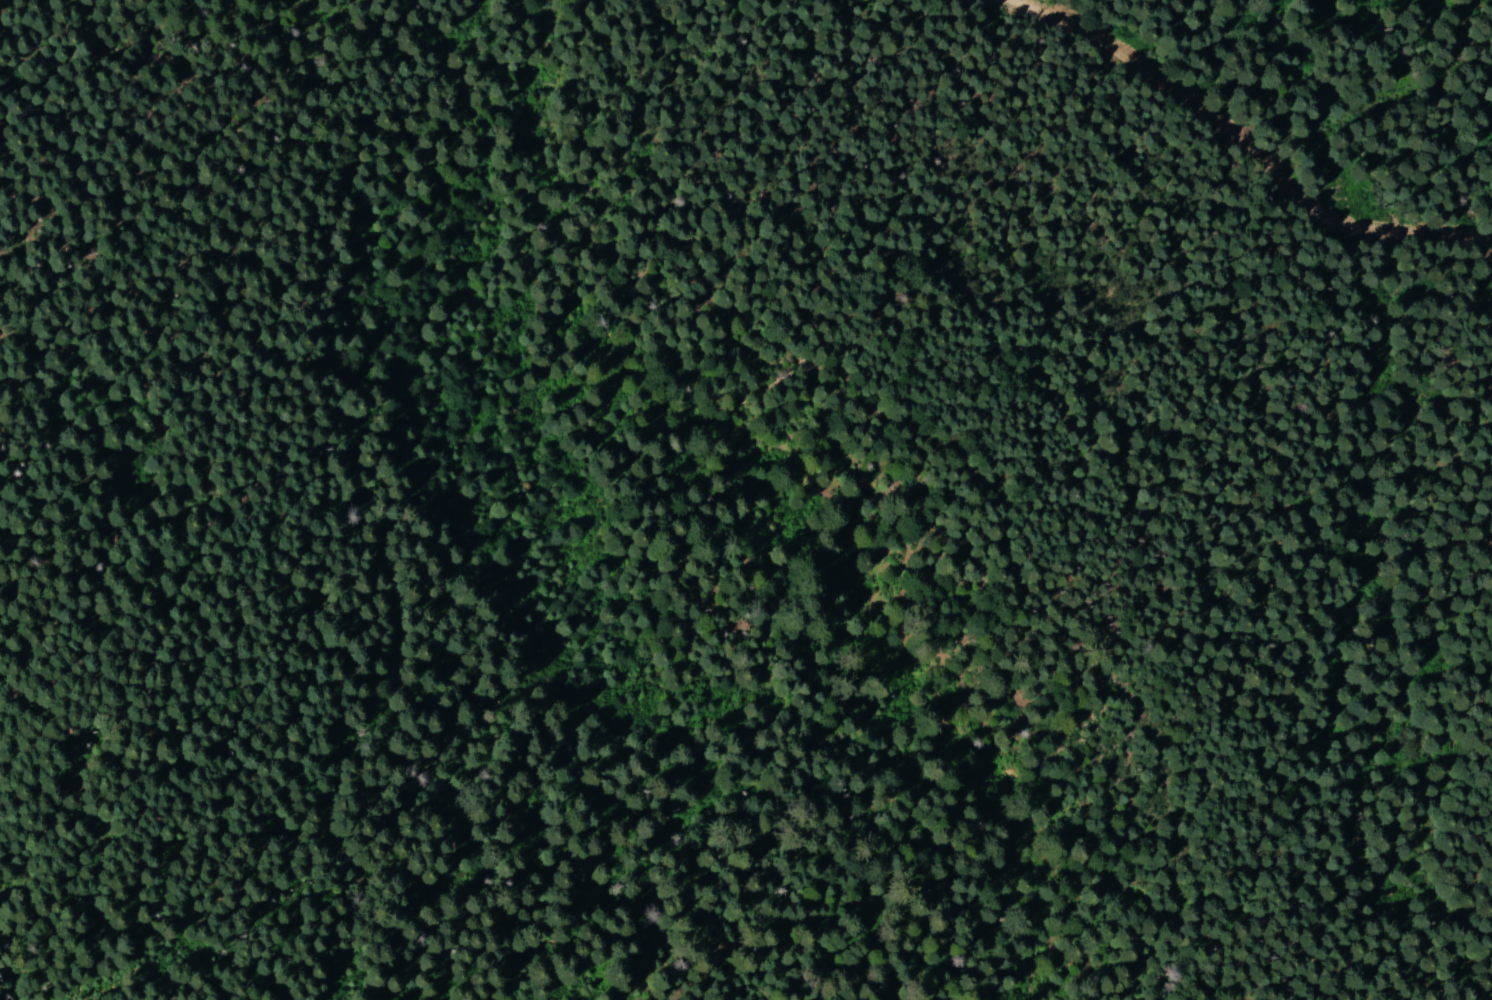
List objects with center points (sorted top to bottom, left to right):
road: (1244, 142)

